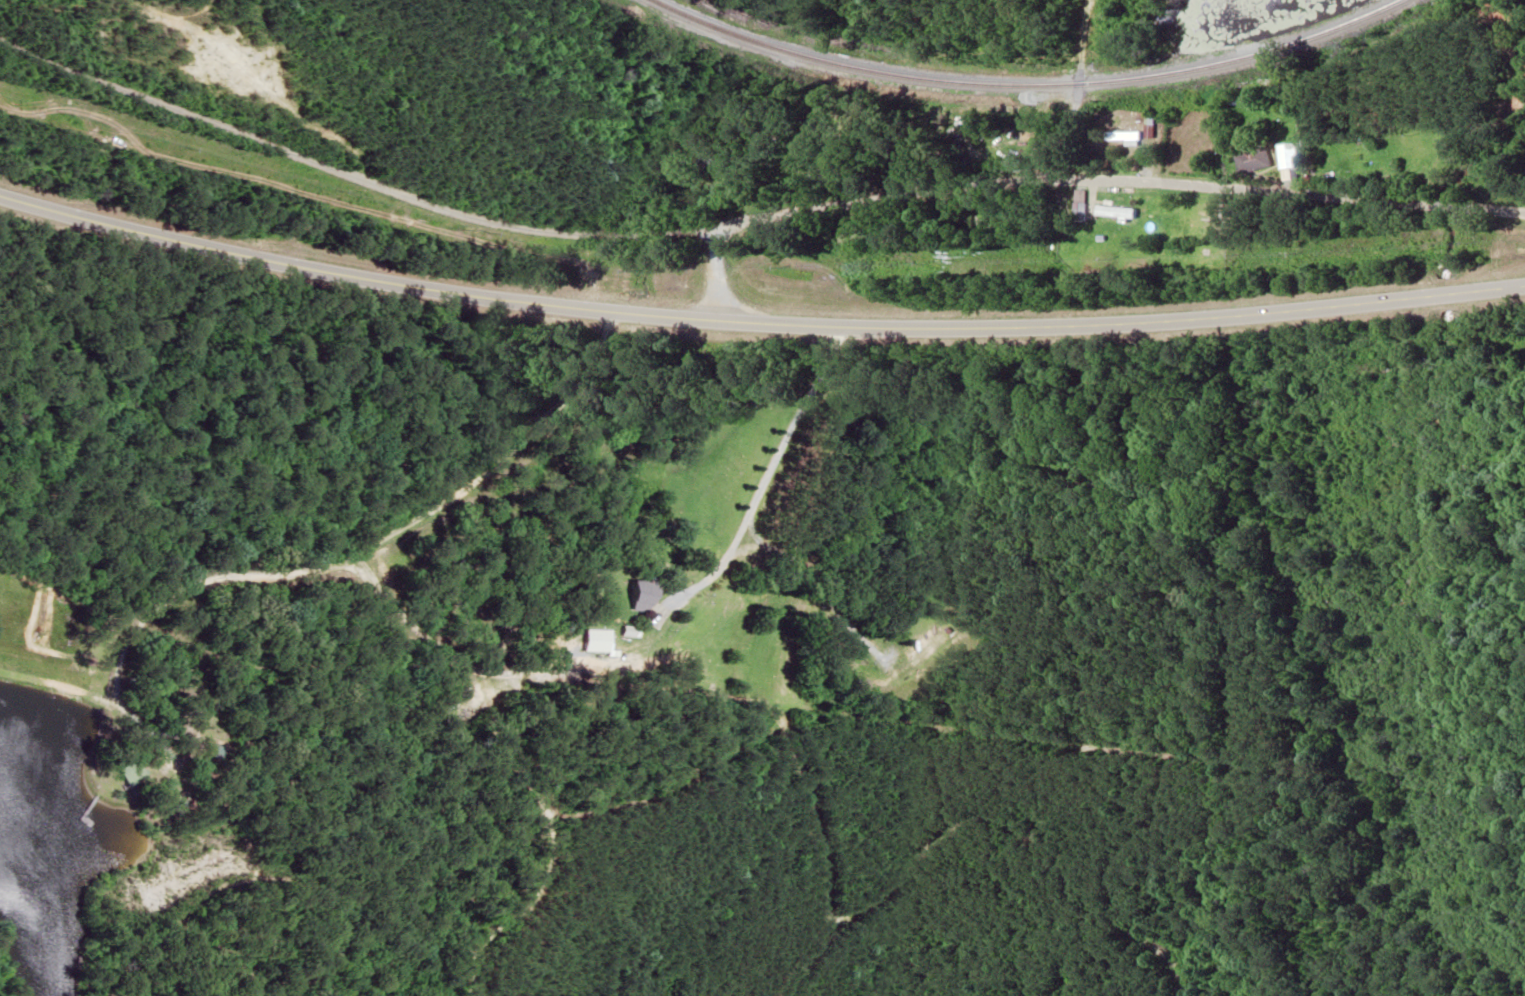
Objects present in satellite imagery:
railway: (1028, 86)
building: (1147, 127)
building: (1121, 137)
building: (1244, 155)
building: (1364, 155)
building: (1285, 156)
building: (709, 163)
road: (741, 207)
building: (1076, 212)
building: (1116, 212)
building: (846, 233)
road: (722, 261)
road: (756, 317)
building: (635, 597)
building: (592, 640)
building: (920, 641)
building: (126, 771)

